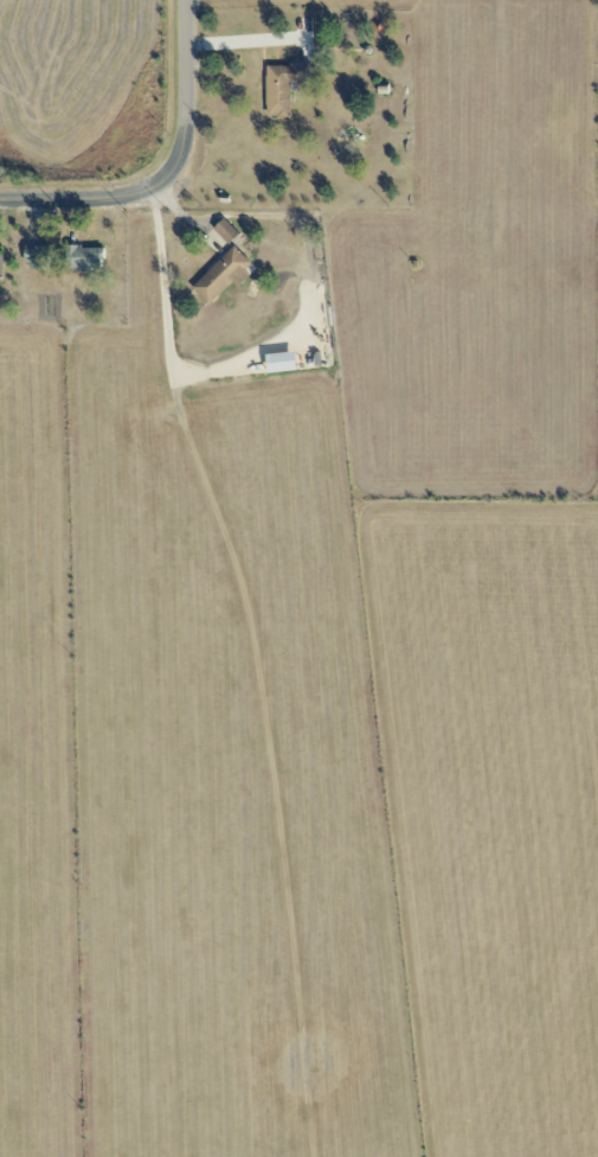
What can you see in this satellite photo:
road: (247, 40)
building: (283, 87)
road: (169, 174)
building: (225, 231)
building: (37, 257)
building: (84, 258)
building: (0, 261)
building: (223, 275)
road: (167, 321)

